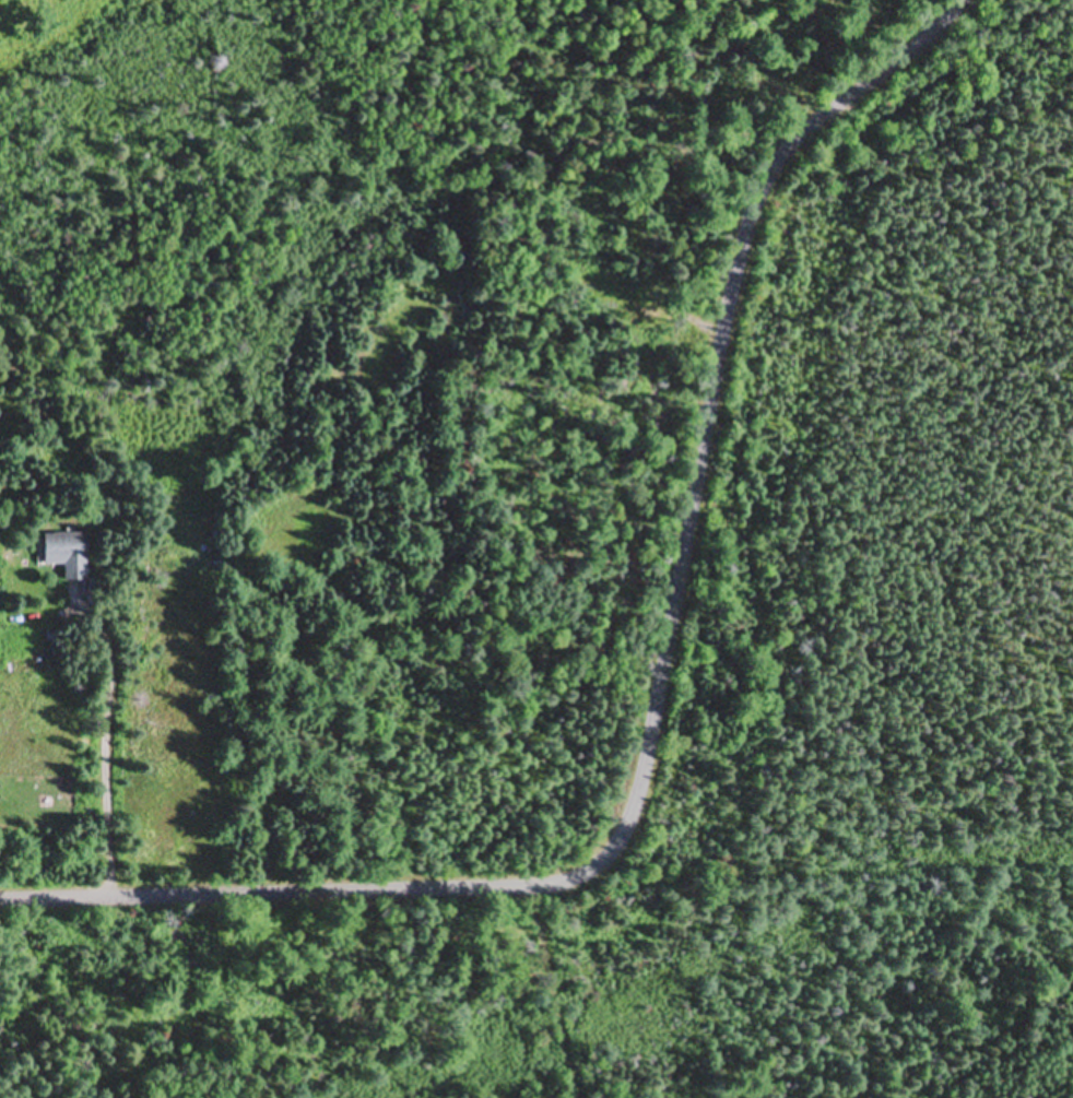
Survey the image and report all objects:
building: (68, 554)
road: (661, 694)

